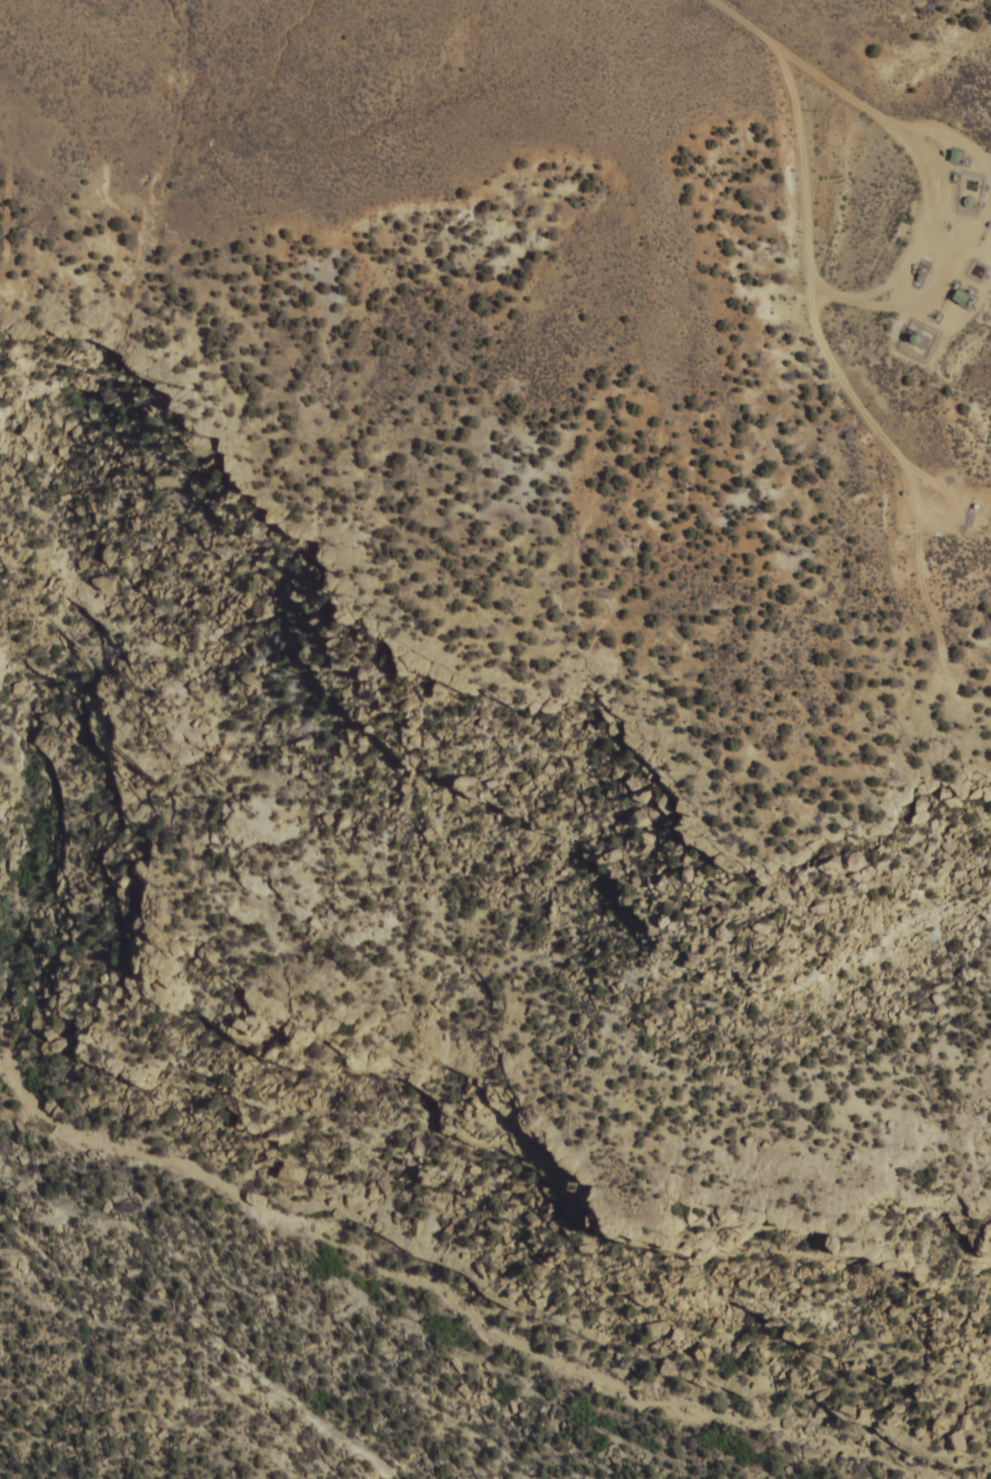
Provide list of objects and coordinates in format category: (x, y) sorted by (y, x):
road: (903, 199)
building: (956, 297)

